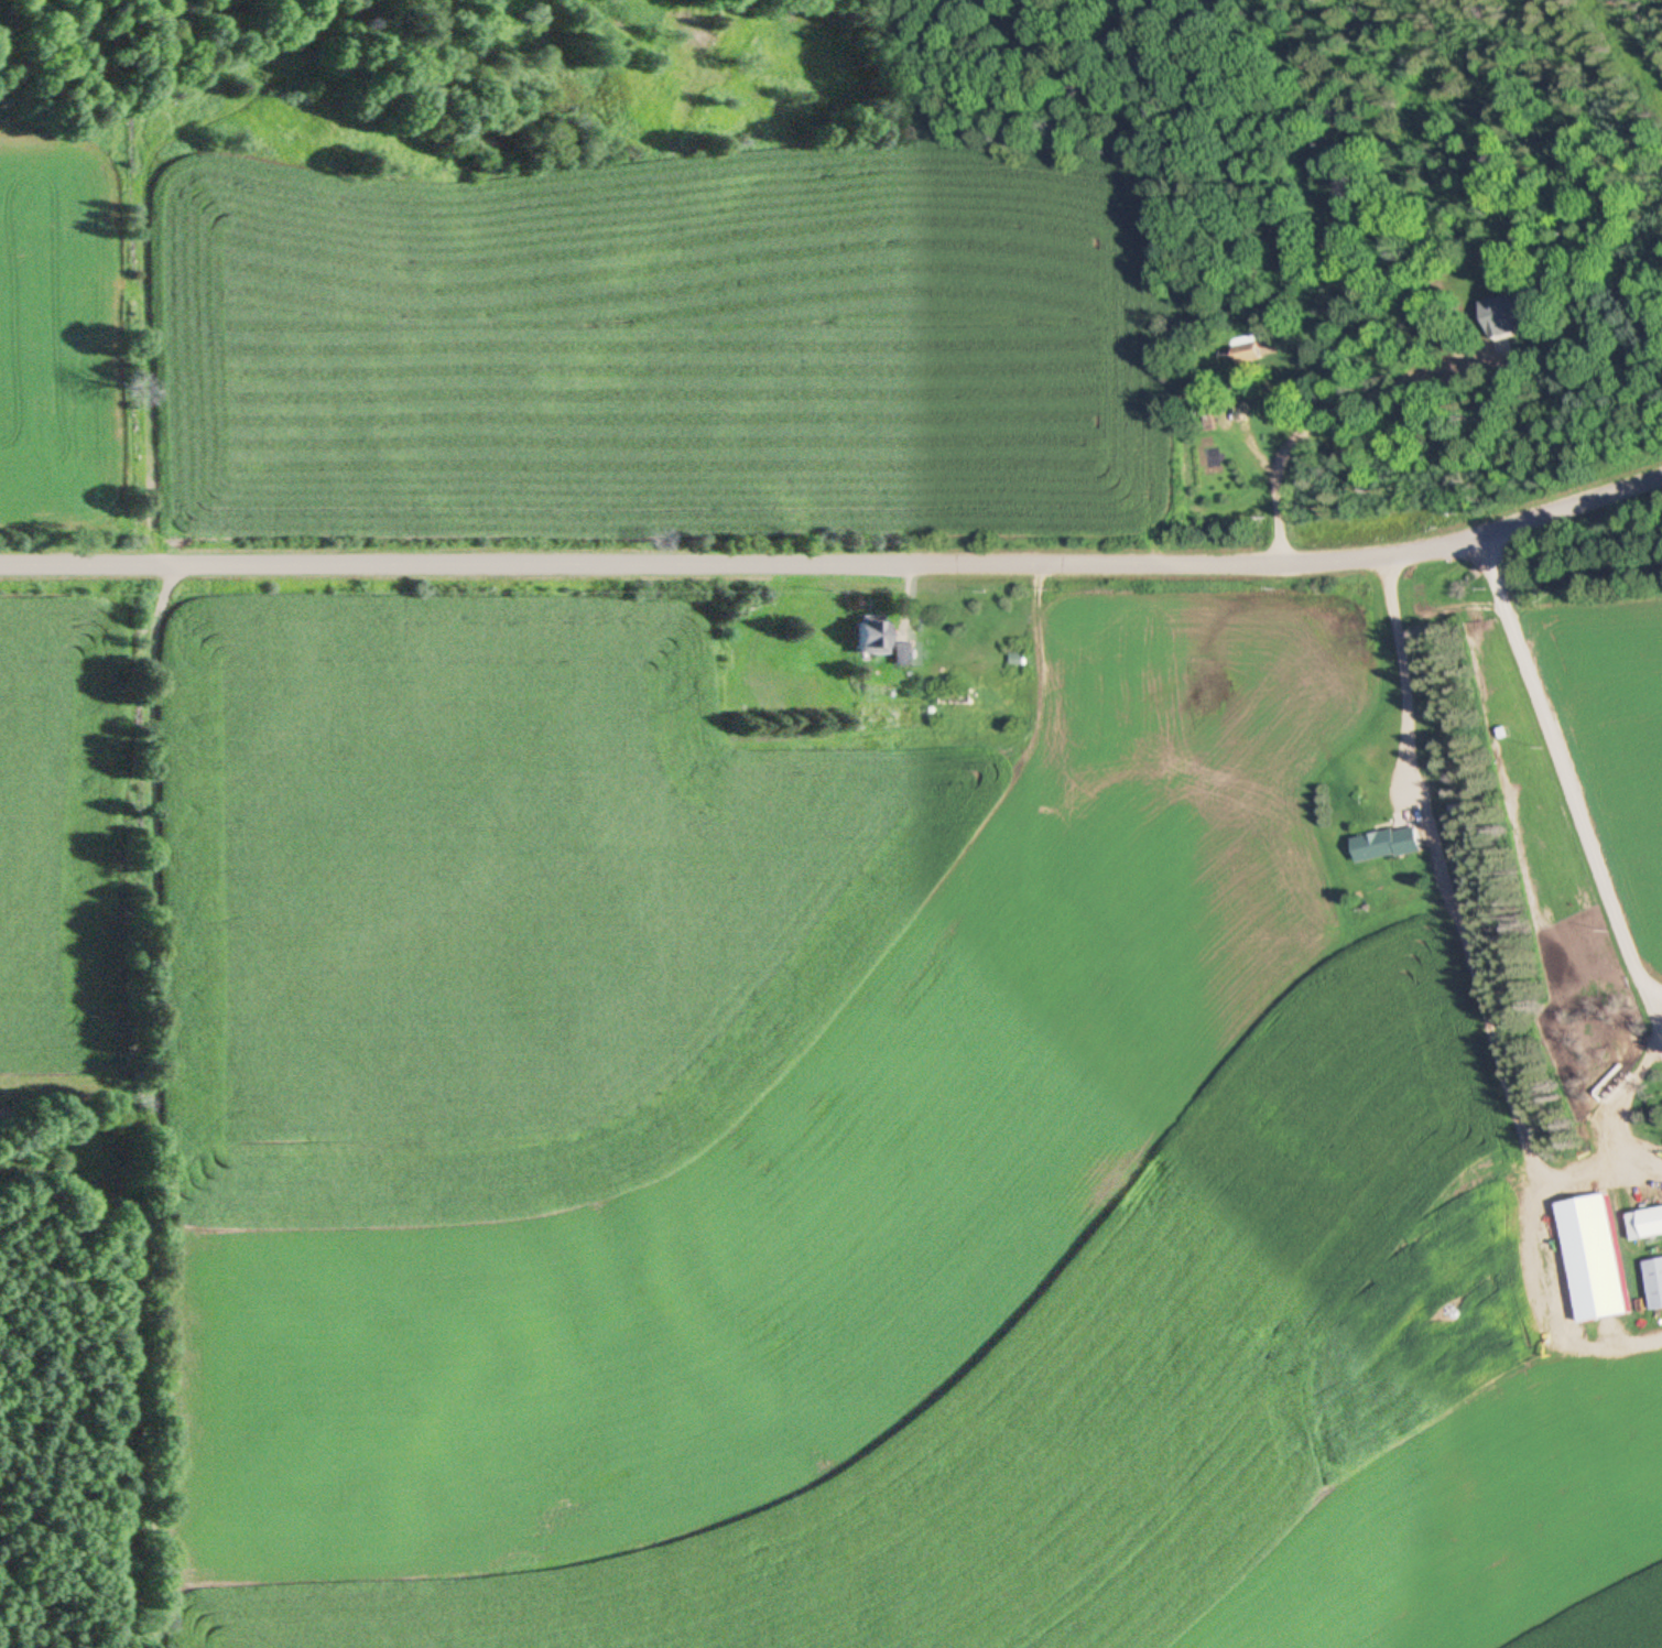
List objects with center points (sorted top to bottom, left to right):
building: (1512, 317)
road: (836, 560)
building: (870, 637)
building: (902, 654)
road: (1560, 763)
building: (1389, 846)
road: (1441, 875)
road: (1652, 993)
road: (1651, 1020)
road: (1641, 1163)
road: (1530, 1206)
building: (1648, 1224)
building: (1598, 1259)
building: (1655, 1282)

